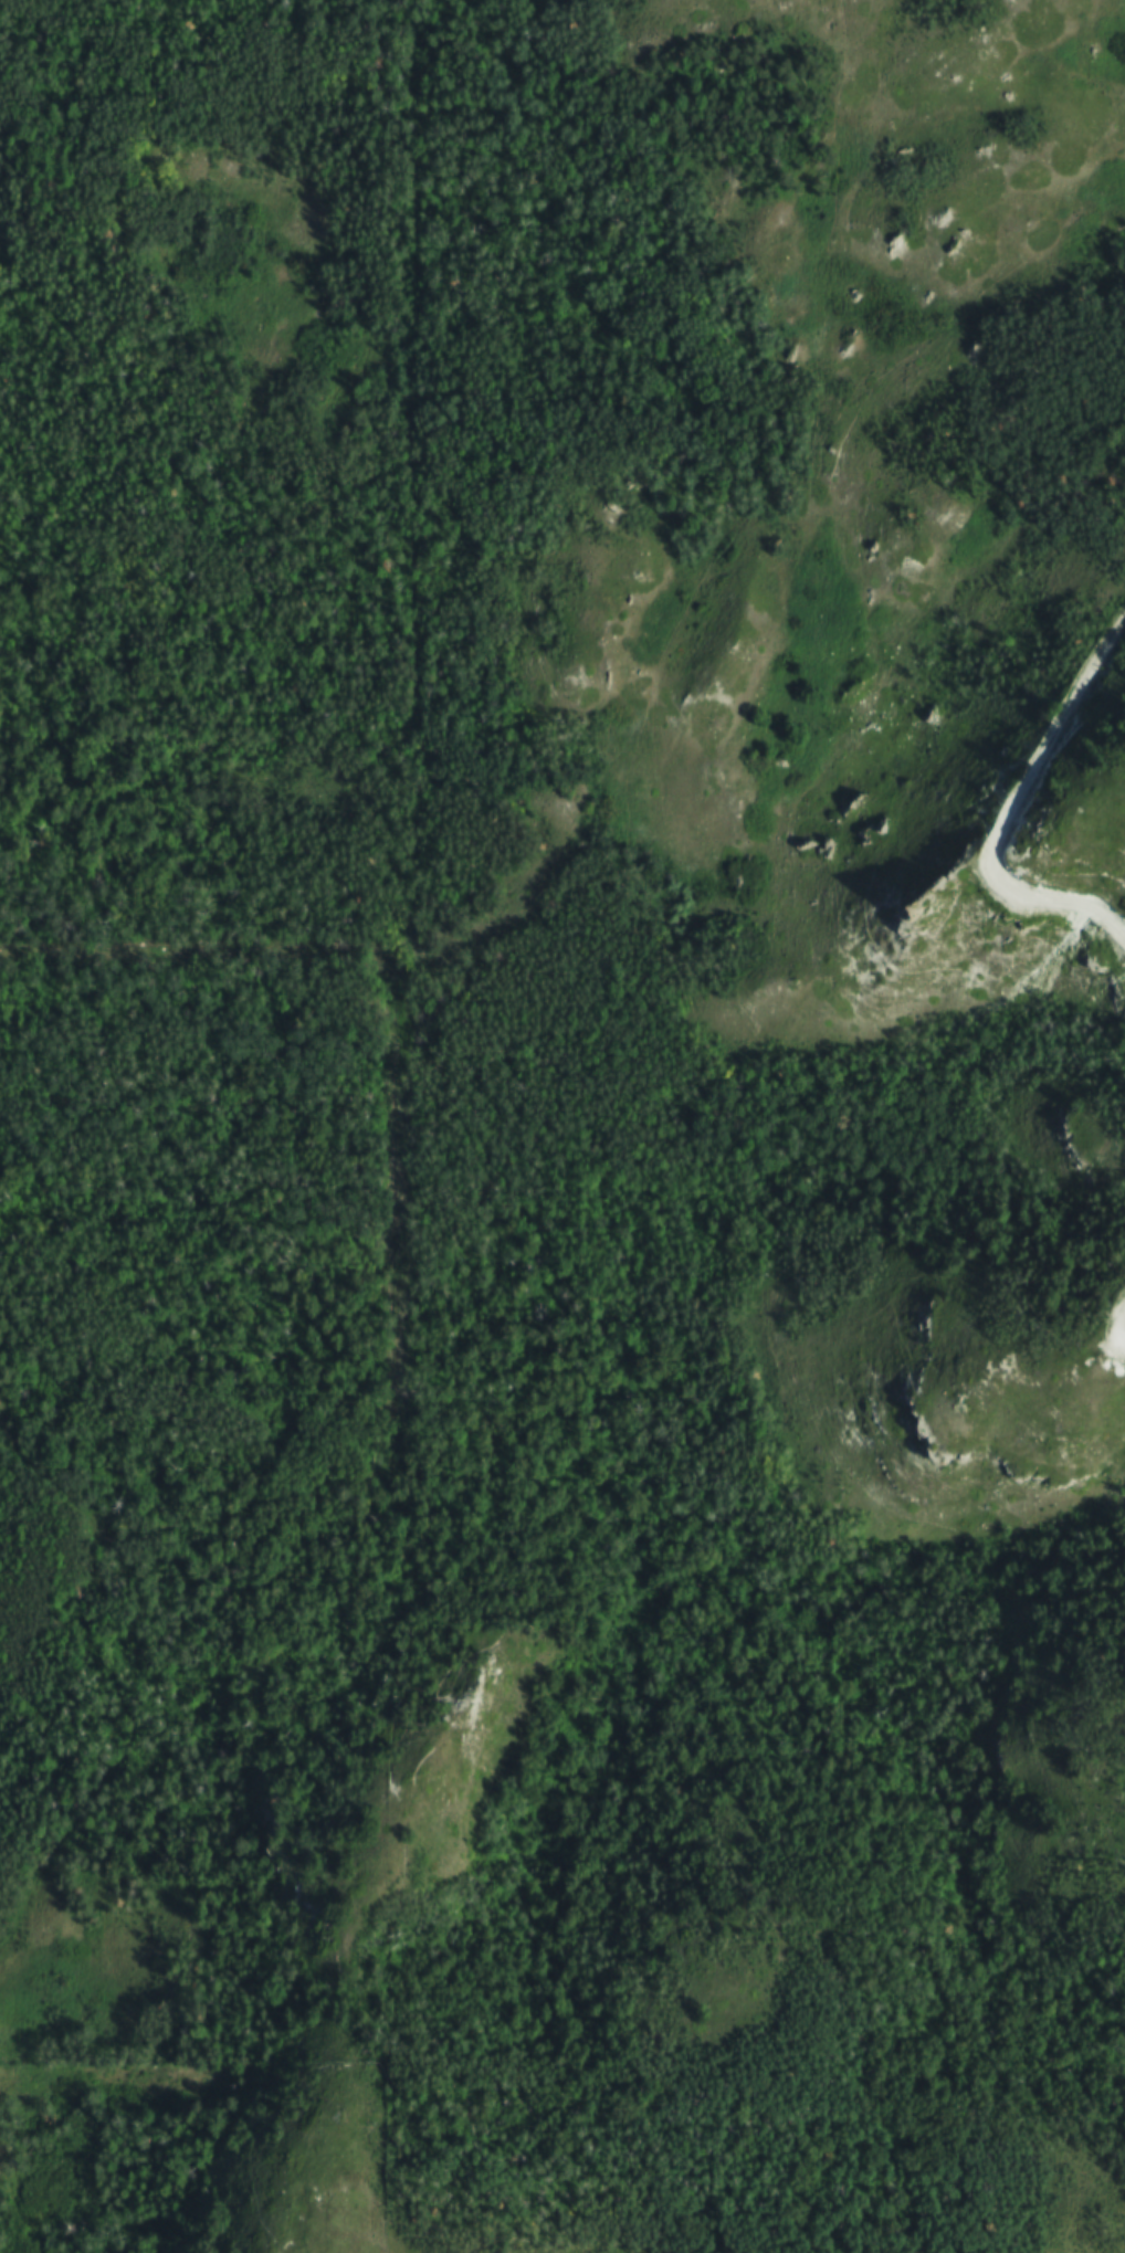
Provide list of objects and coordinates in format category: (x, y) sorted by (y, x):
road: (999, 804)

